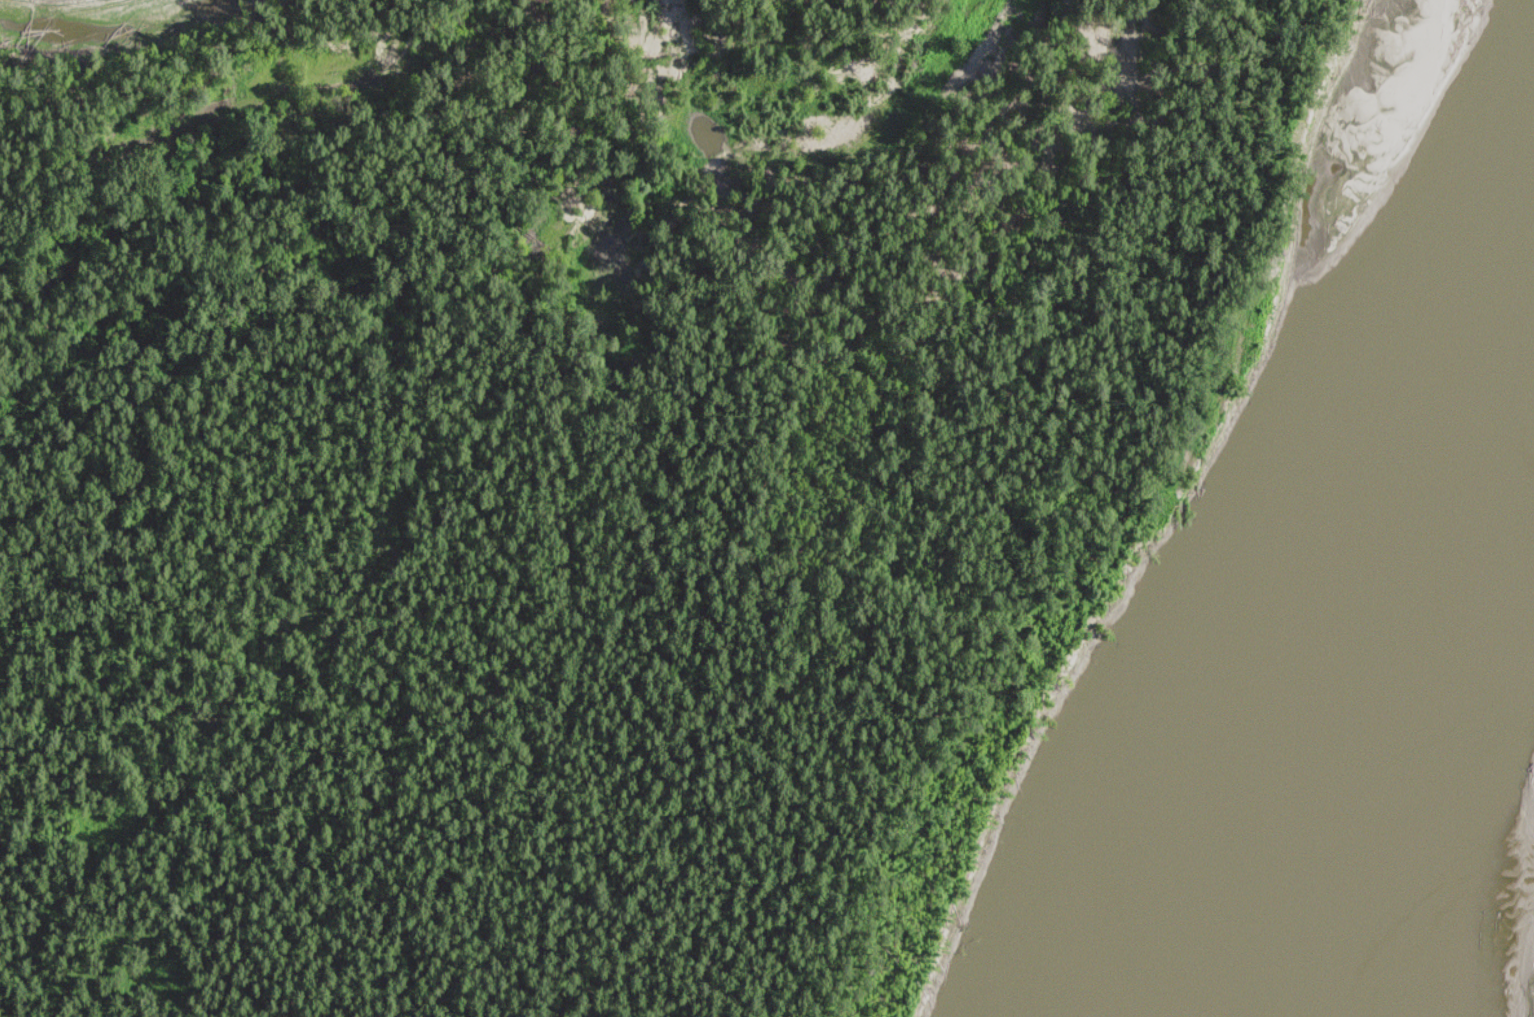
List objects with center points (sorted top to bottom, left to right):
river: (1243, 580)

